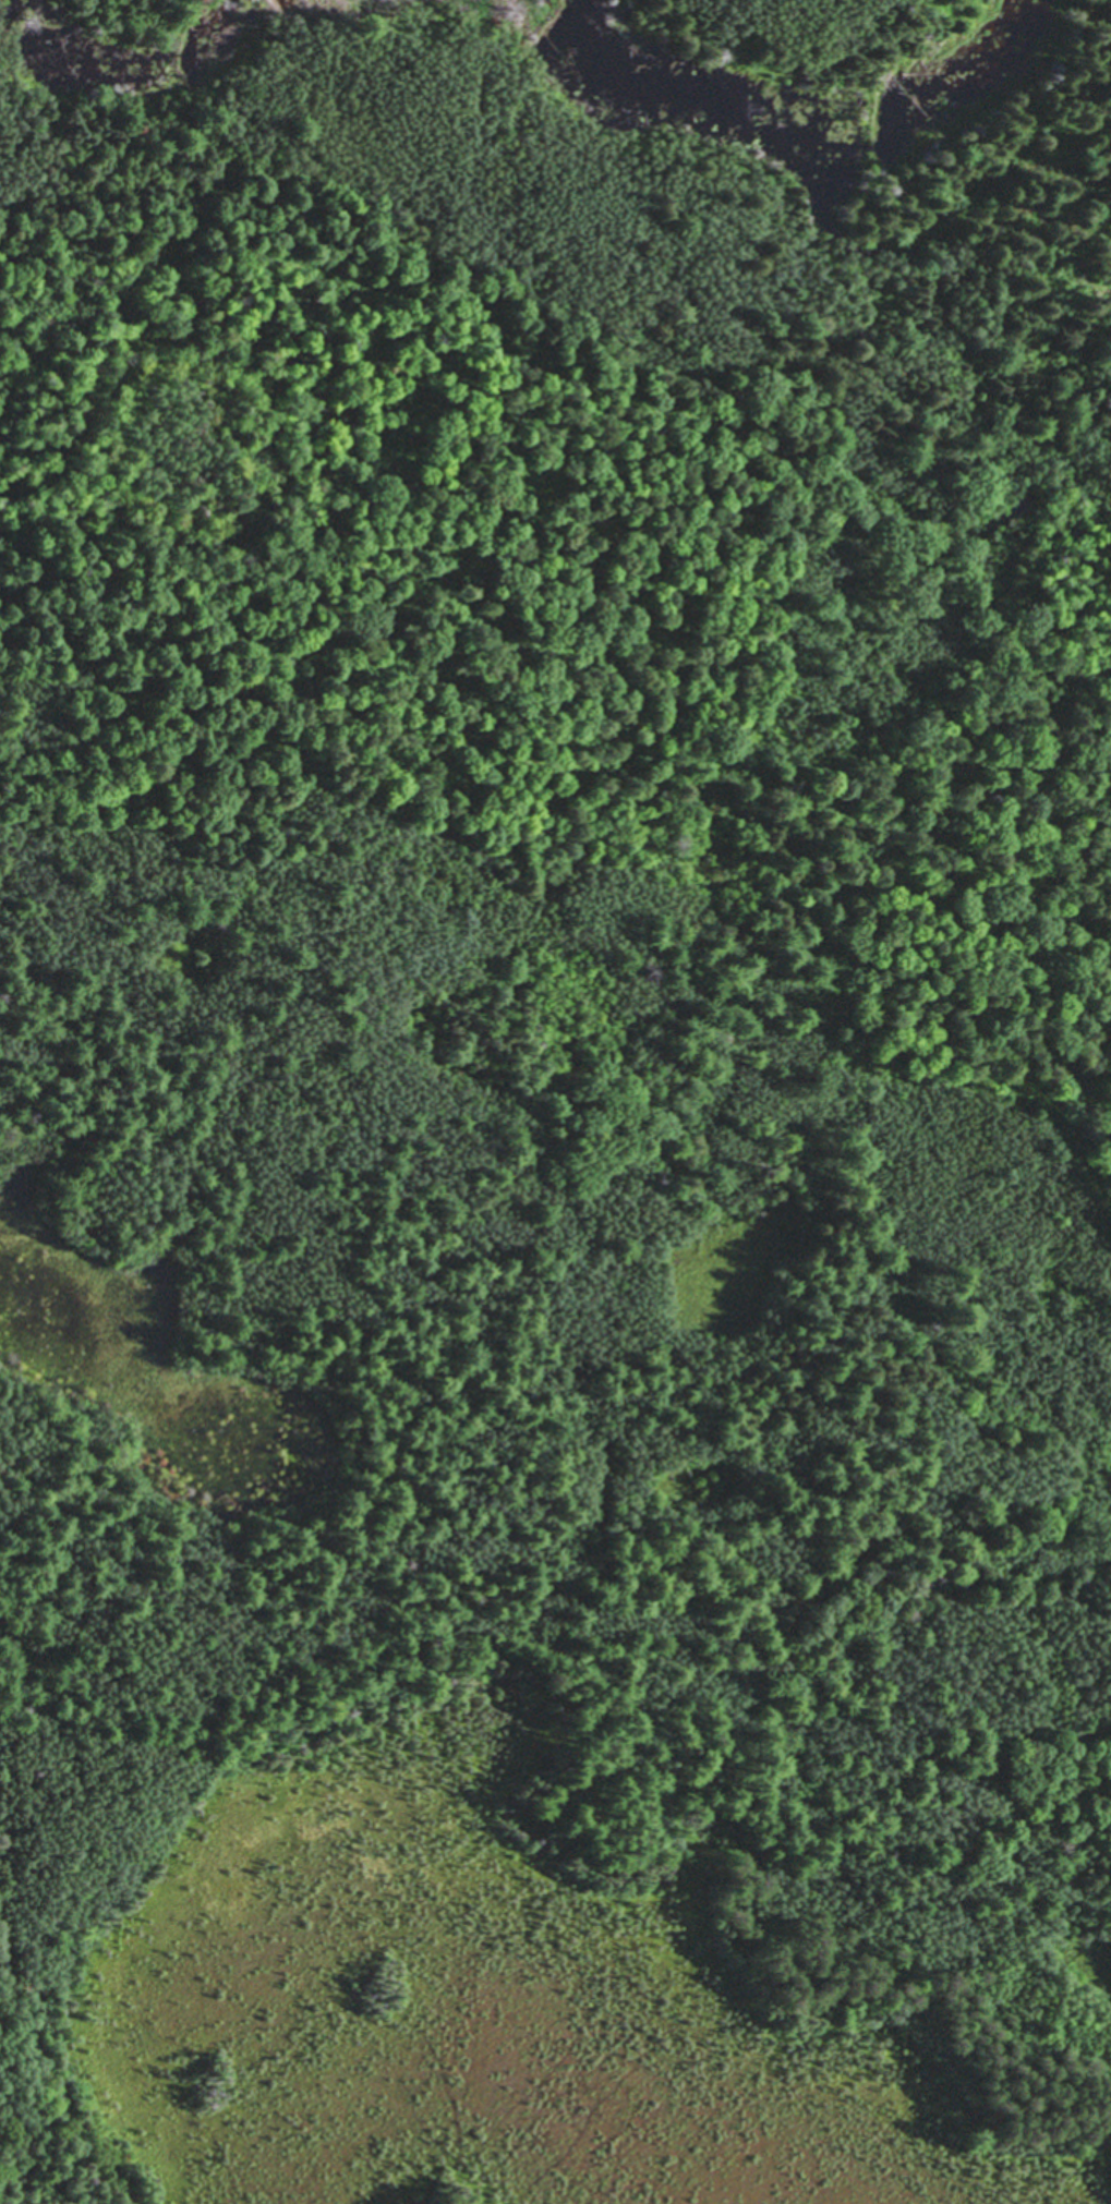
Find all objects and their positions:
road: (40, 2142)

